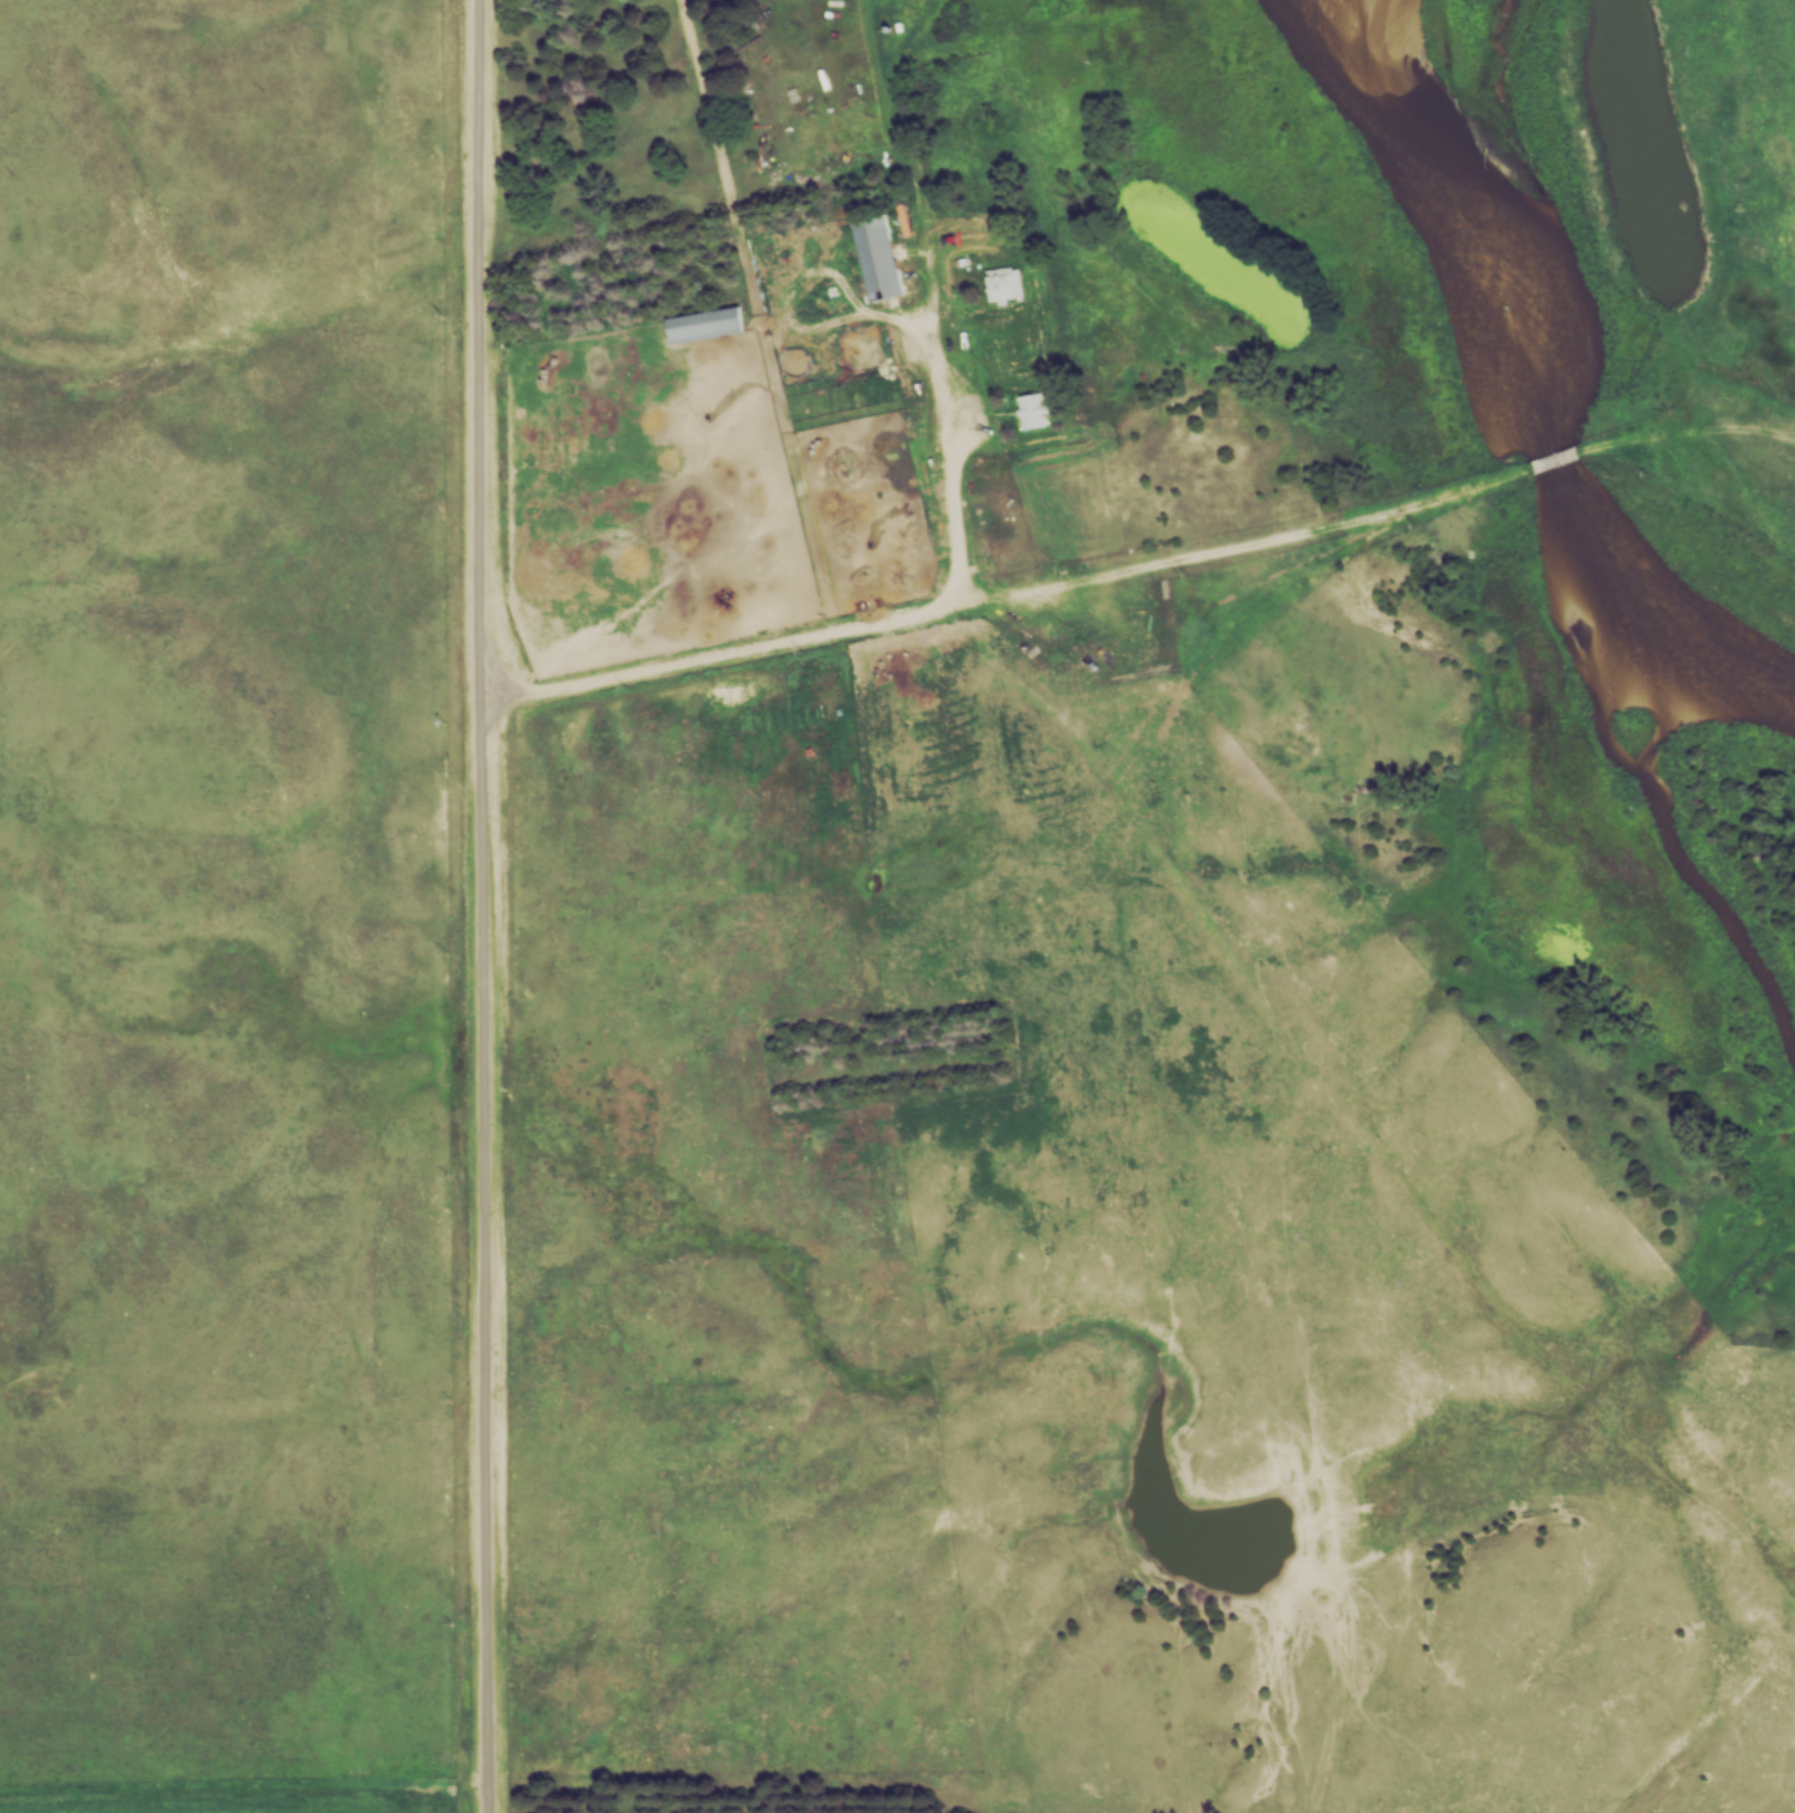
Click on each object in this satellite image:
building: (881, 258)
building: (1007, 284)
building: (708, 325)
river: (1537, 385)
building: (1039, 410)
building: (1074, 569)
road: (898, 629)
road: (472, 906)

